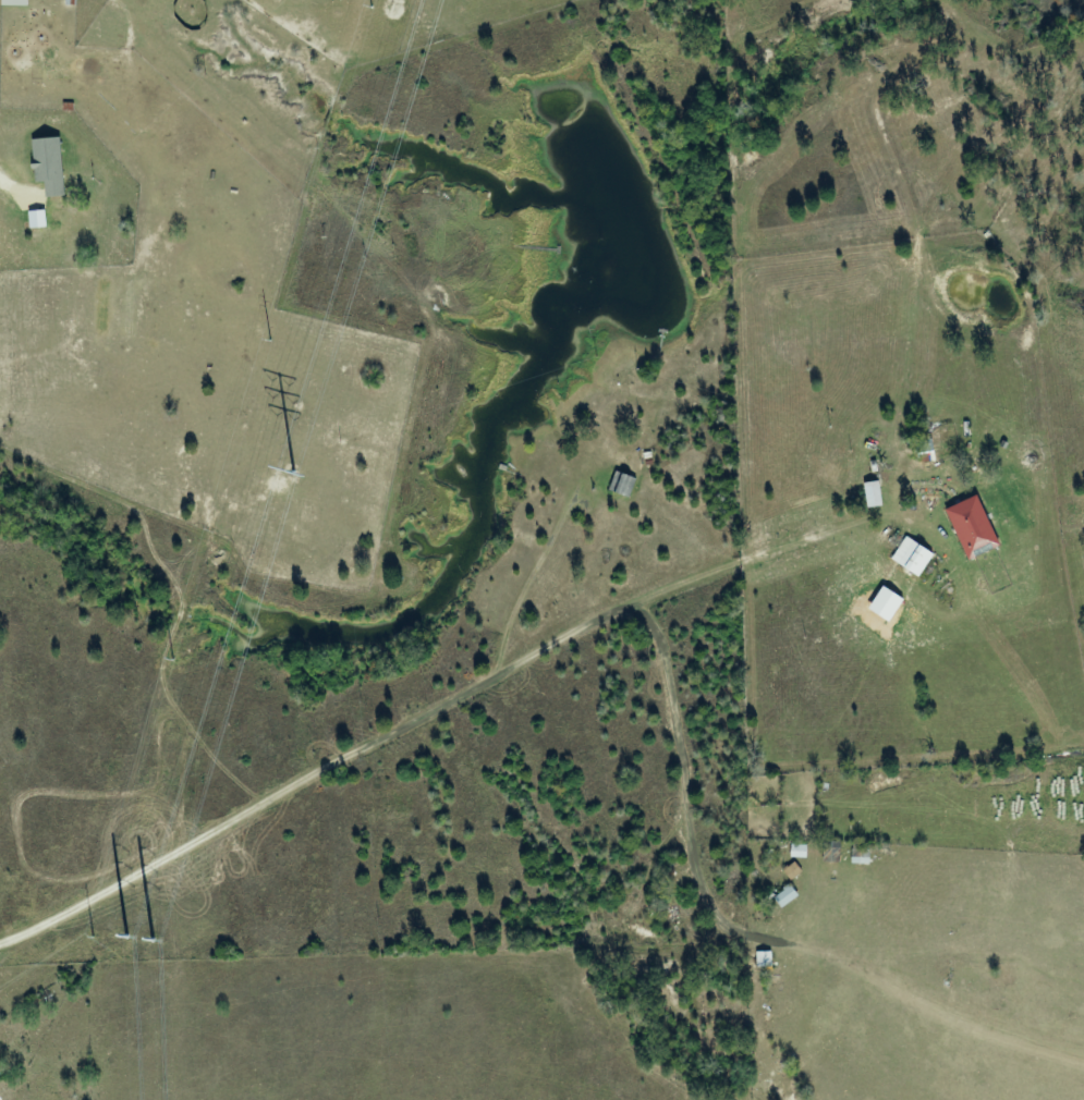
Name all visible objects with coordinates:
building: (17, 2)
power tower: (373, 4)
building: (52, 166)
power tower: (272, 340)
building: (876, 494)
building: (976, 528)
building: (916, 557)
power tower: (175, 660)
building: (795, 871)
power tower: (171, 885)
building: (790, 896)
power tower: (93, 938)

